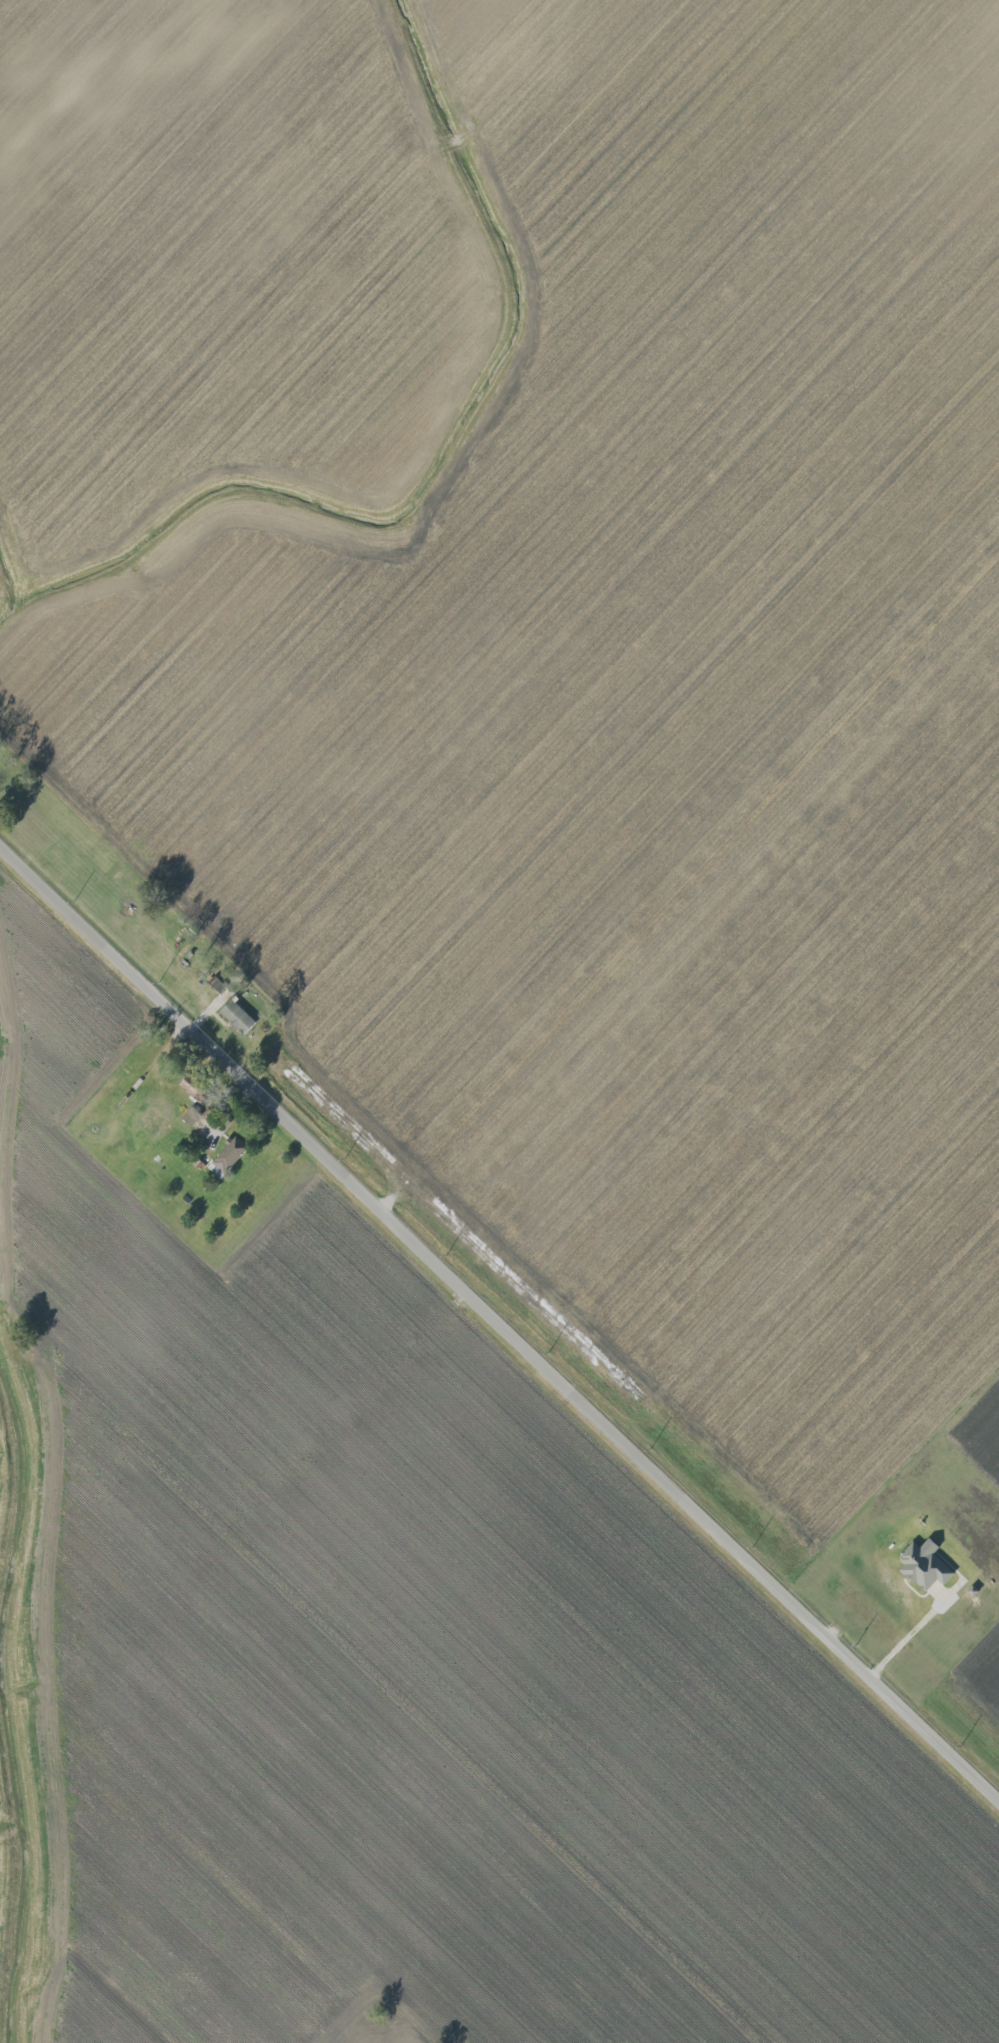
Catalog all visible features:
building: (239, 1016)
building: (231, 1154)
road: (499, 1317)
building: (926, 1565)
road: (908, 1636)

